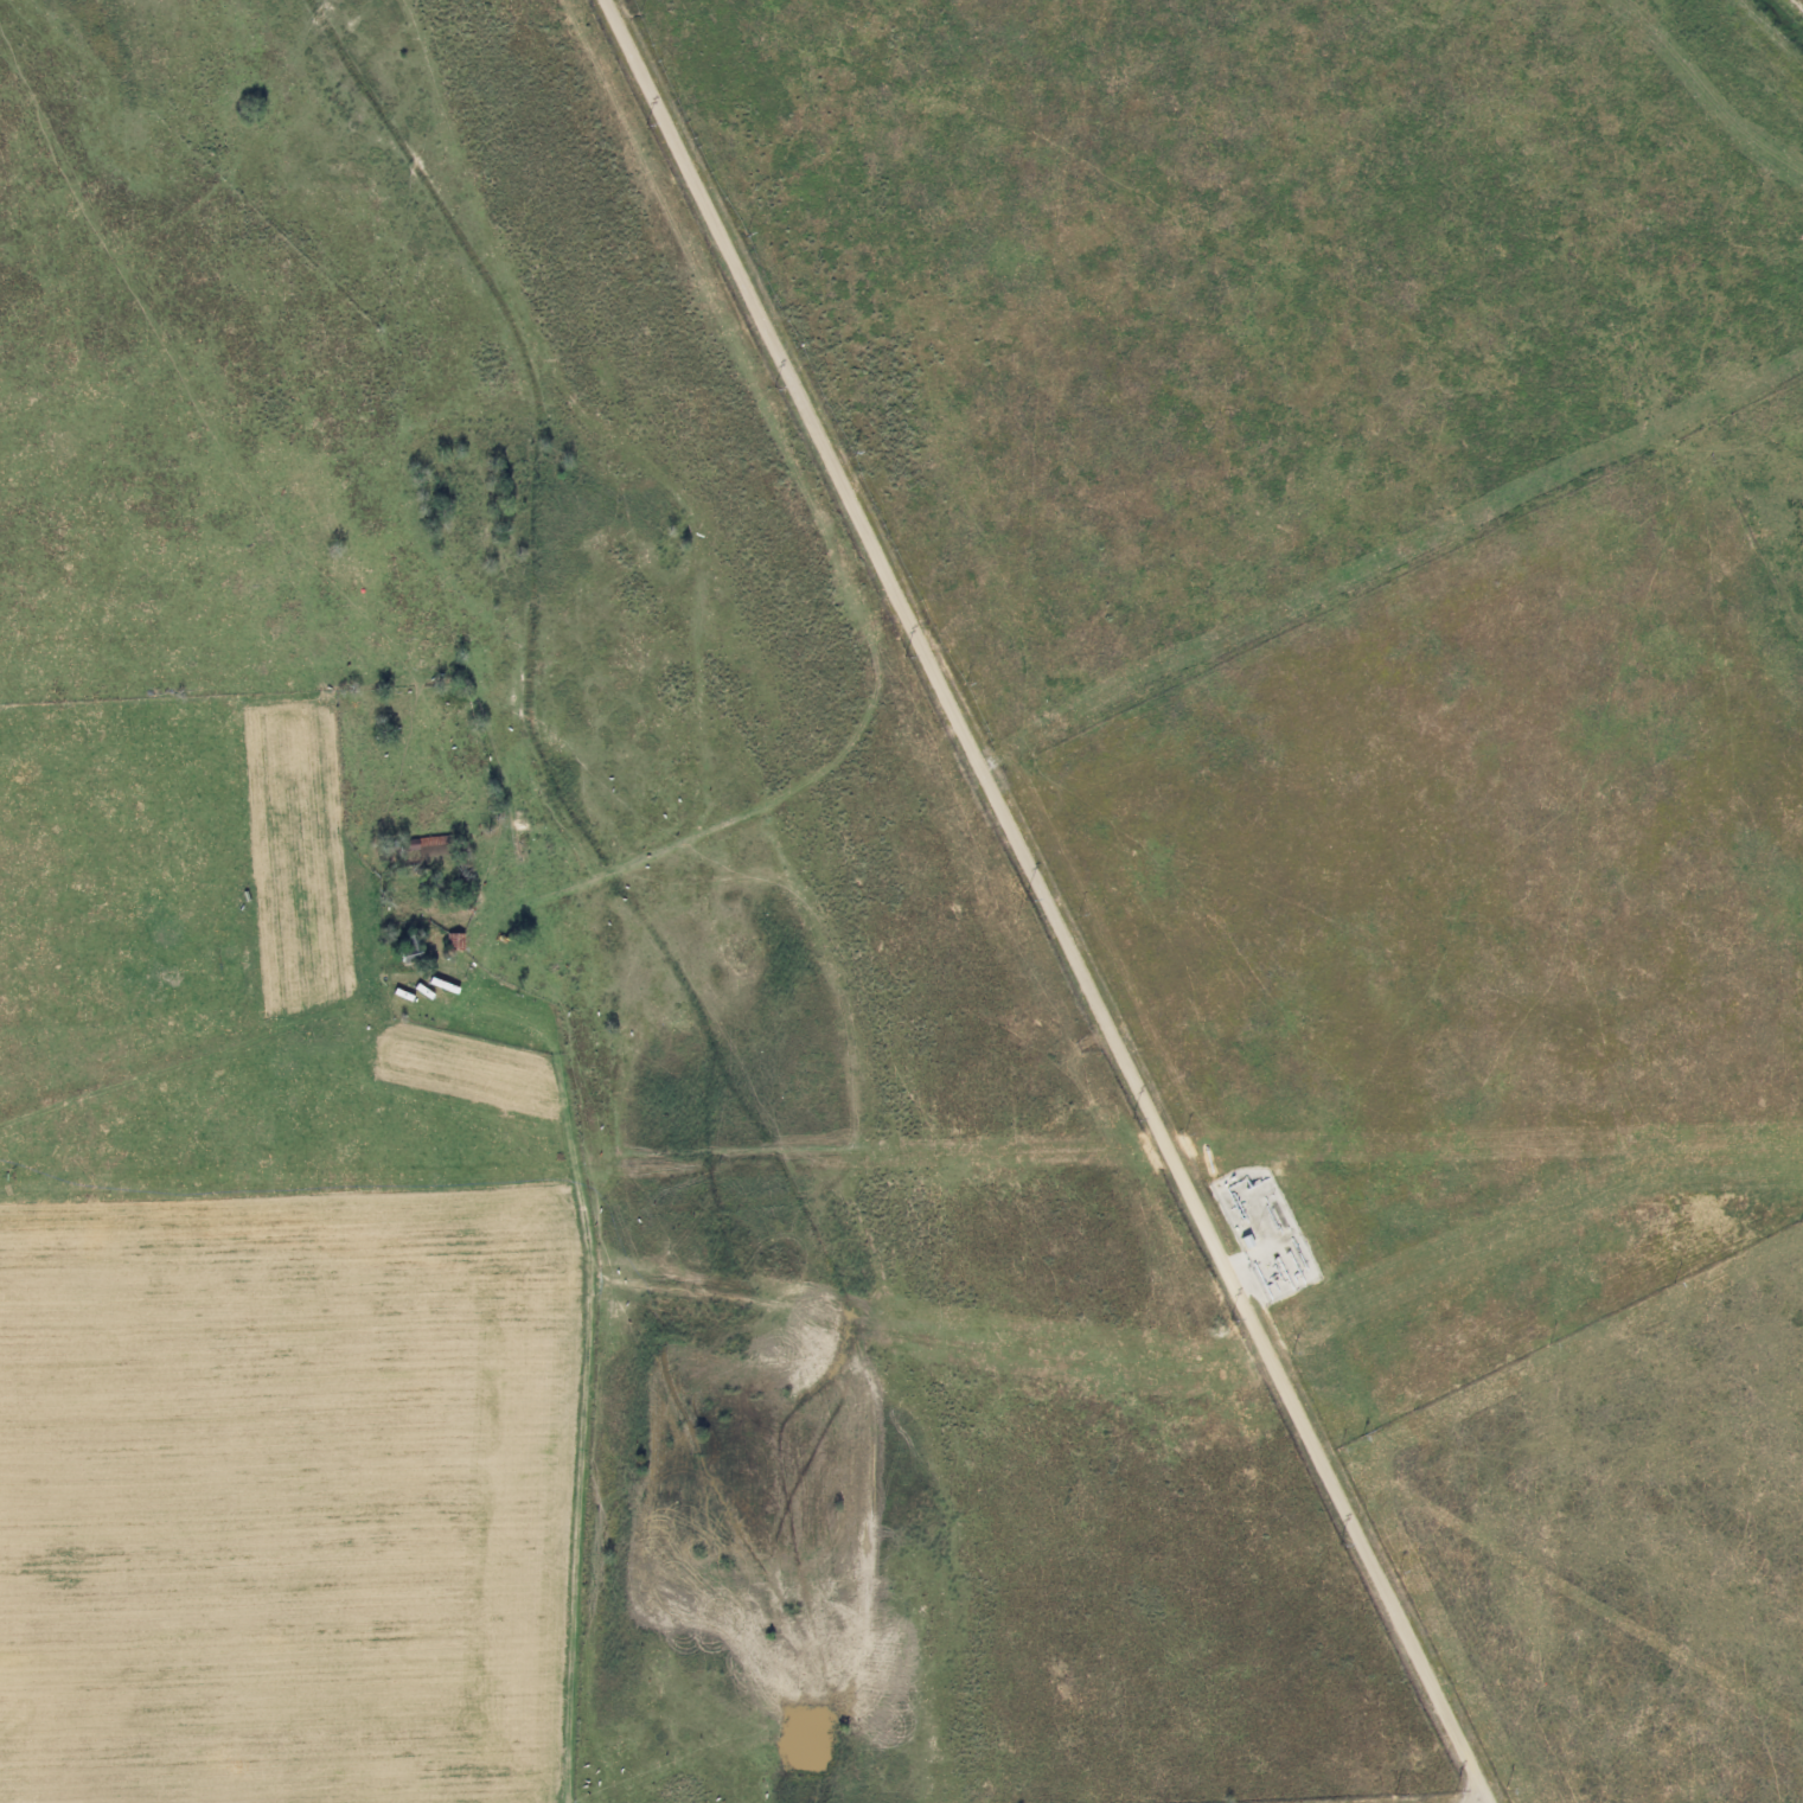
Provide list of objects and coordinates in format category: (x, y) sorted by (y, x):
road: (1044, 901)
building: (453, 941)
building: (405, 947)
road: (583, 1350)

